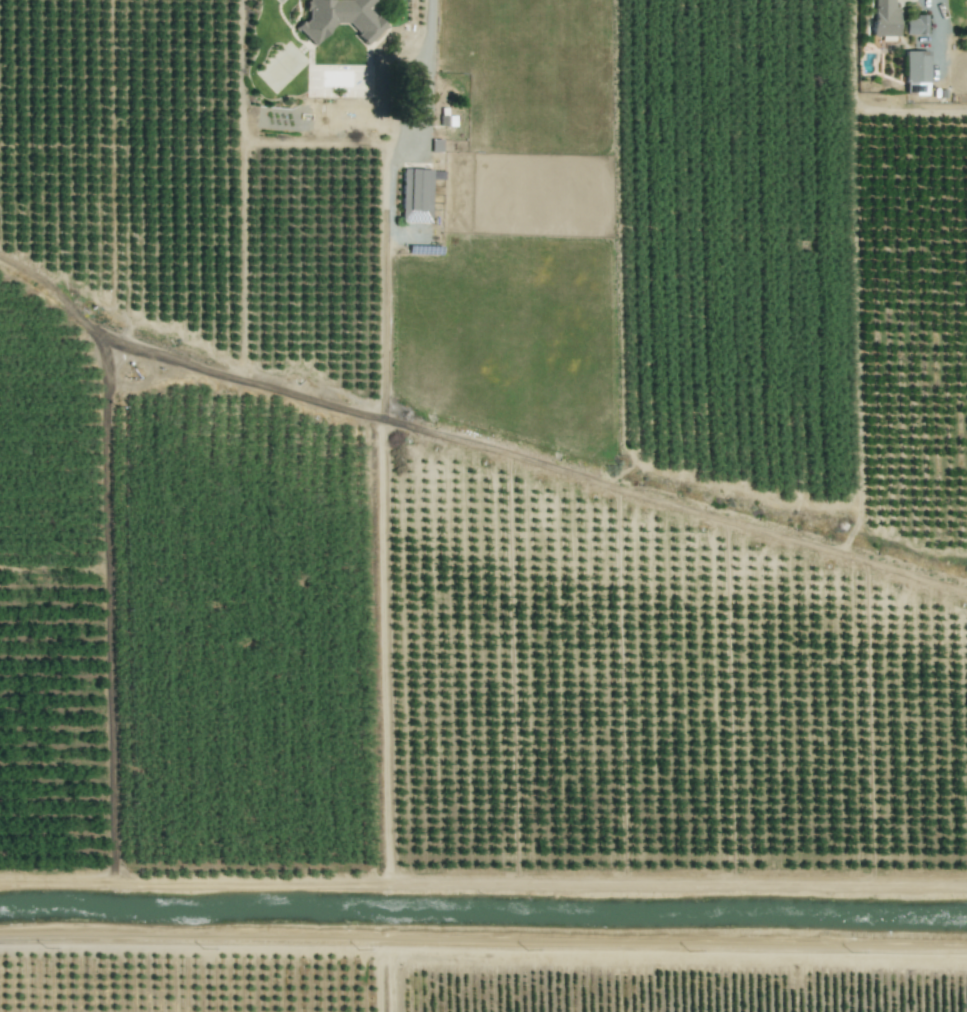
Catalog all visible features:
building: (885, 18)
building: (340, 19)
building: (916, 25)
road: (428, 58)
building: (915, 73)
building: (435, 145)
road: (483, 889)
road: (483, 940)
road: (388, 975)

